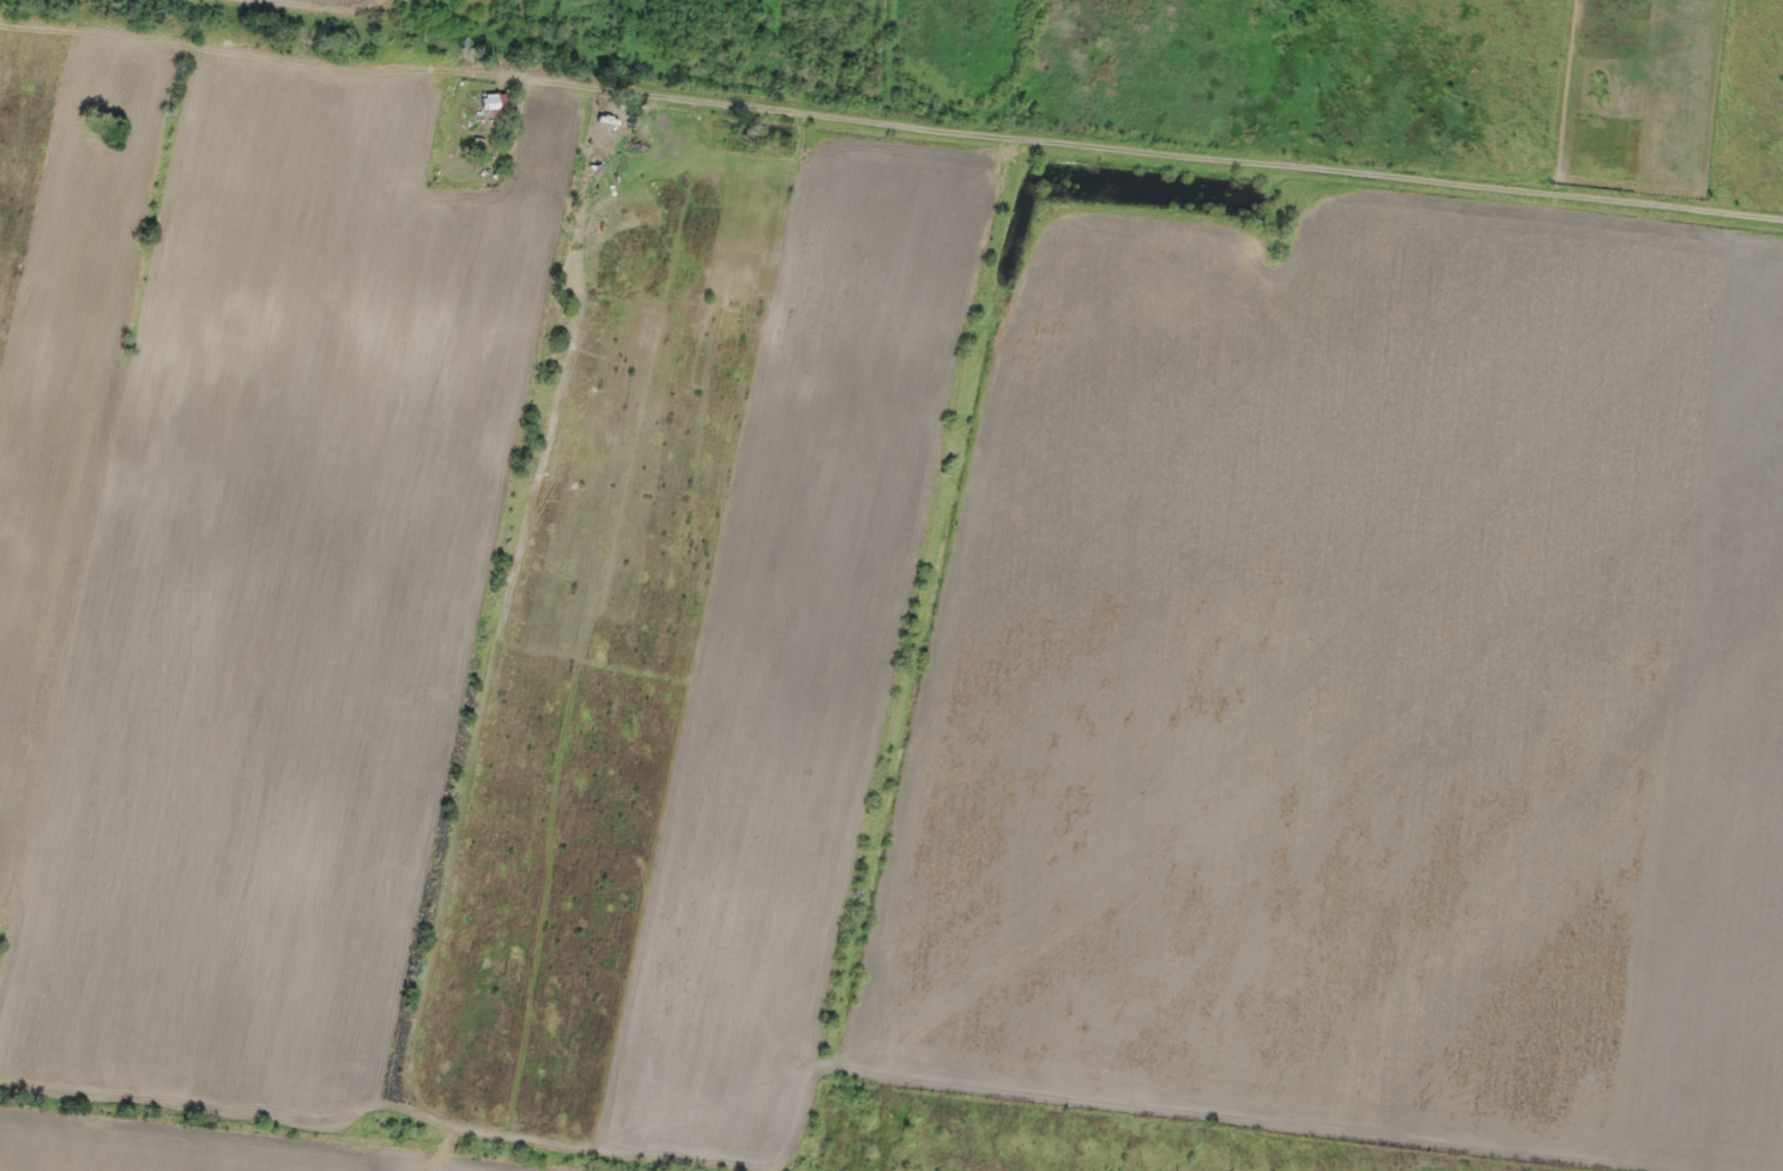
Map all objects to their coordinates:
road: (890, 120)
park: (96, 123)

